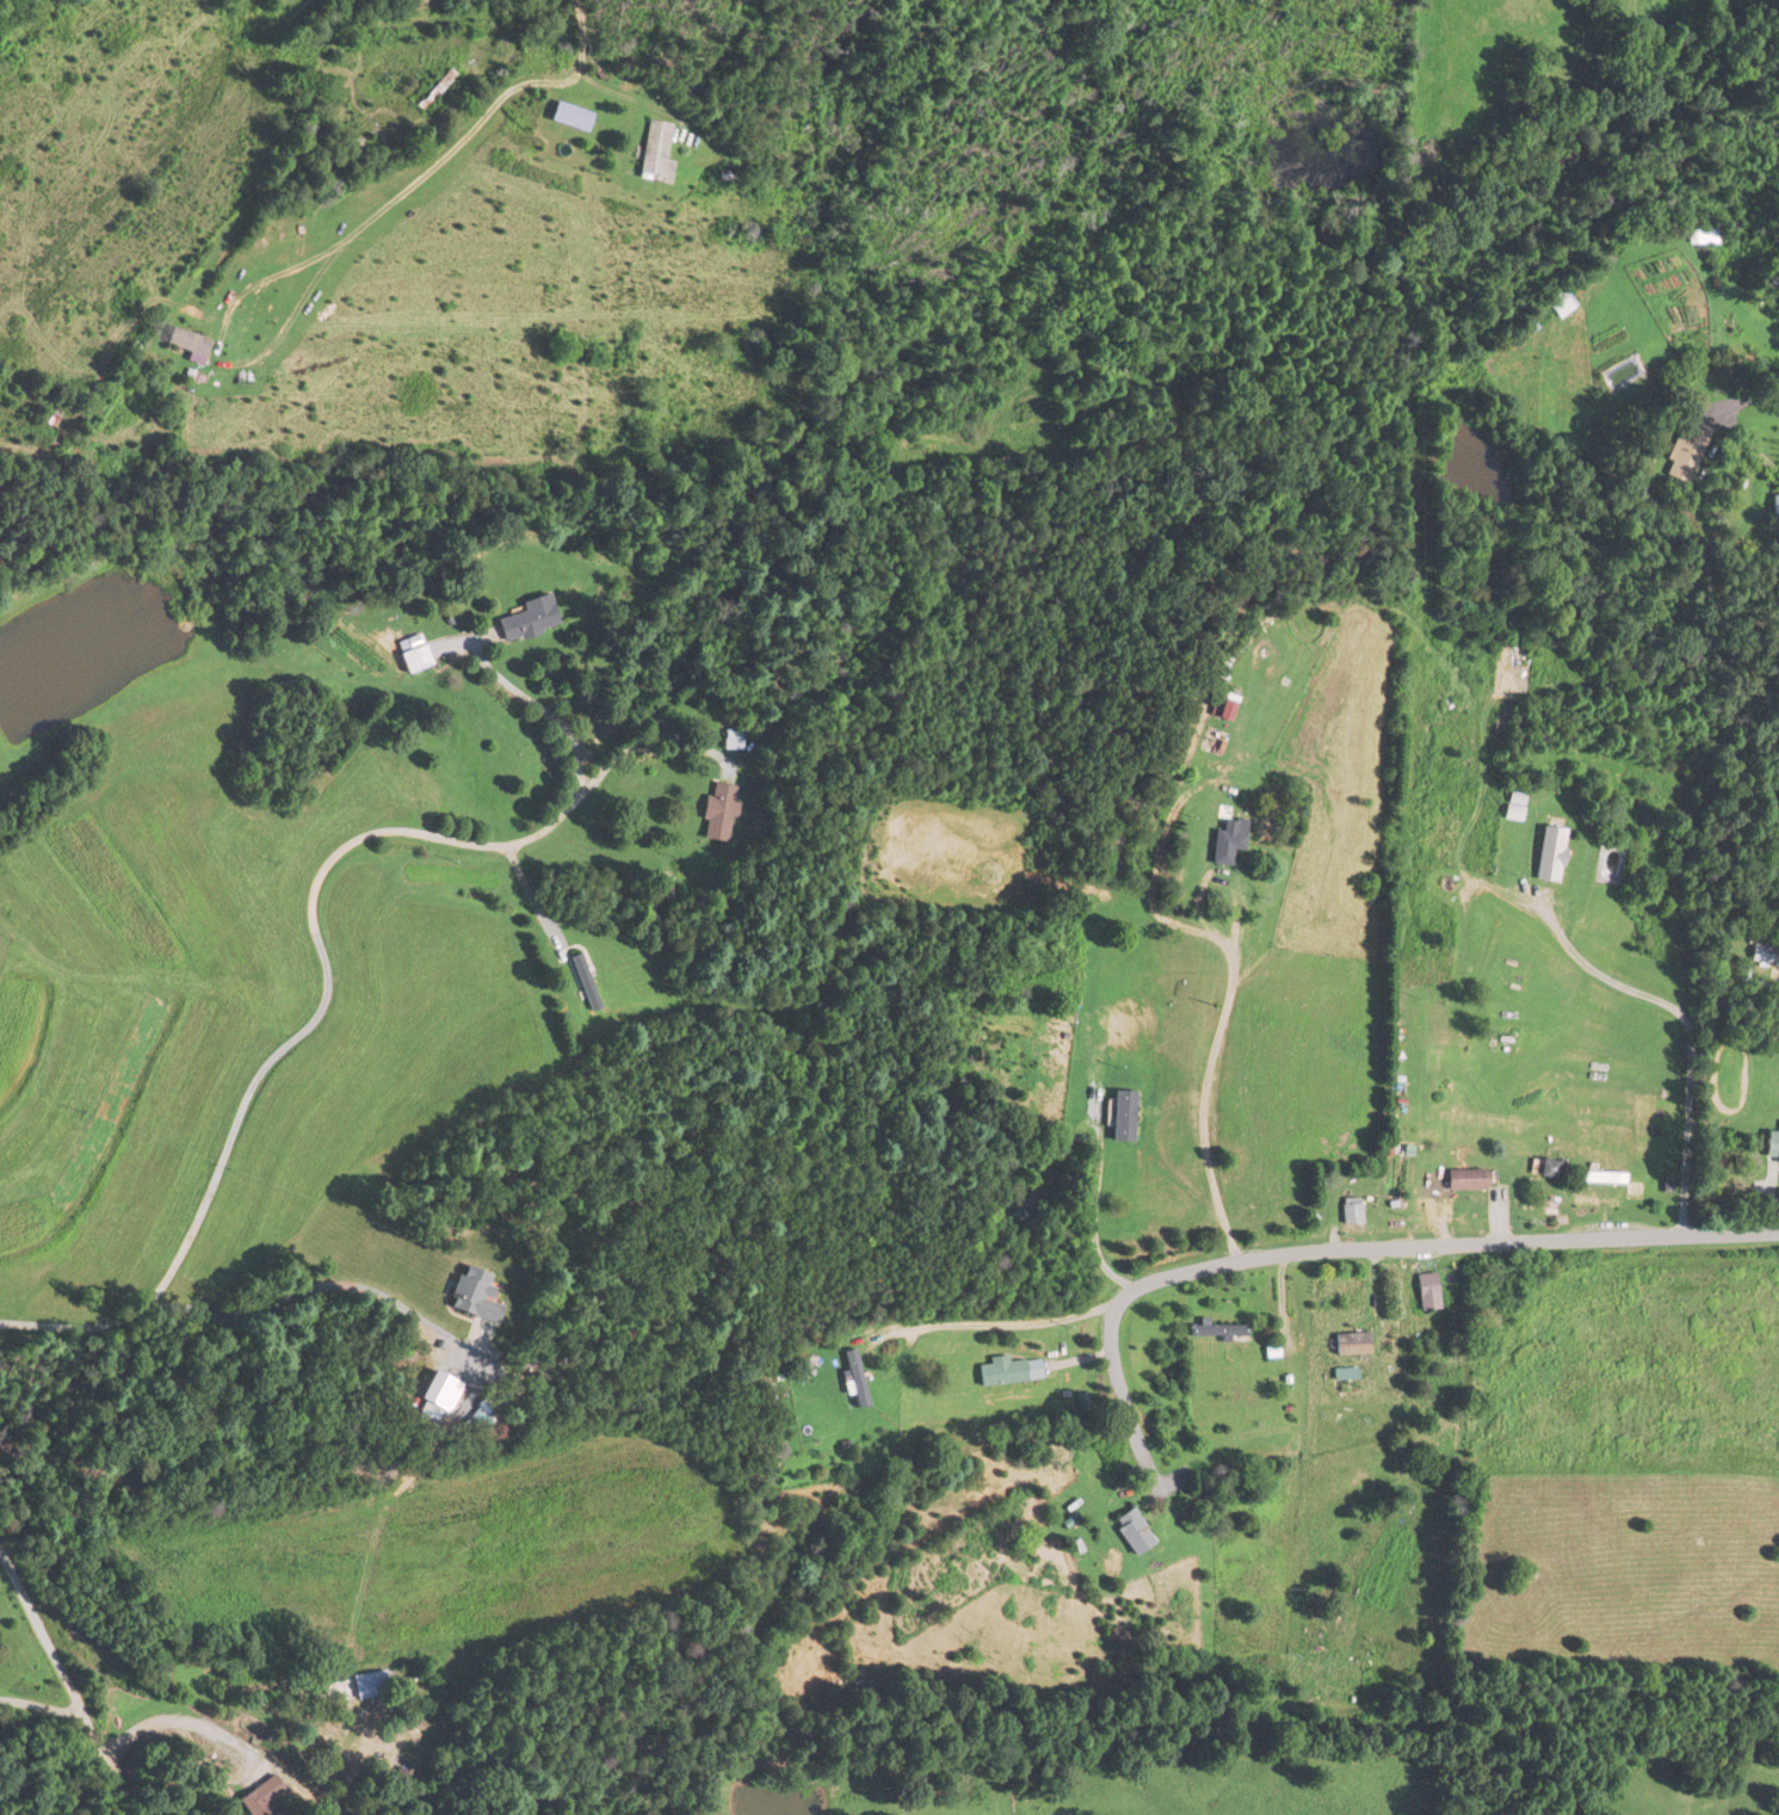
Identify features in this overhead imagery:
building: (431, 91)
building: (567, 117)
road: (552, 134)
building: (653, 154)
road: (425, 161)
building: (181, 342)
building: (1684, 450)
building: (1773, 506)
building: (526, 619)
building: (409, 654)
building: (1556, 665)
building: (1422, 706)
road: (648, 735)
building: (729, 740)
building: (1513, 804)
building: (716, 813)
building: (1224, 846)
building: (1549, 854)
road: (529, 894)
road: (320, 951)
building: (1763, 956)
building: (583, 982)
road: (1722, 1008)
road: (1688, 1029)
road: (1211, 1072)
building: (1122, 1117)
building: (1771, 1149)
building: (1546, 1169)
building: (1464, 1180)
building: (1593, 1204)
building: (1347, 1212)
road: (1095, 1215)
road: (1587, 1236)
road: (1155, 1278)
building: (1425, 1294)
building: (470, 1297)
road: (983, 1321)
building: (1216, 1333)
building: (1351, 1342)
building: (1007, 1372)
building: (845, 1379)
building: (1128, 1530)
road: (64, 1681)
building: (359, 1684)
building: (255, 1798)

